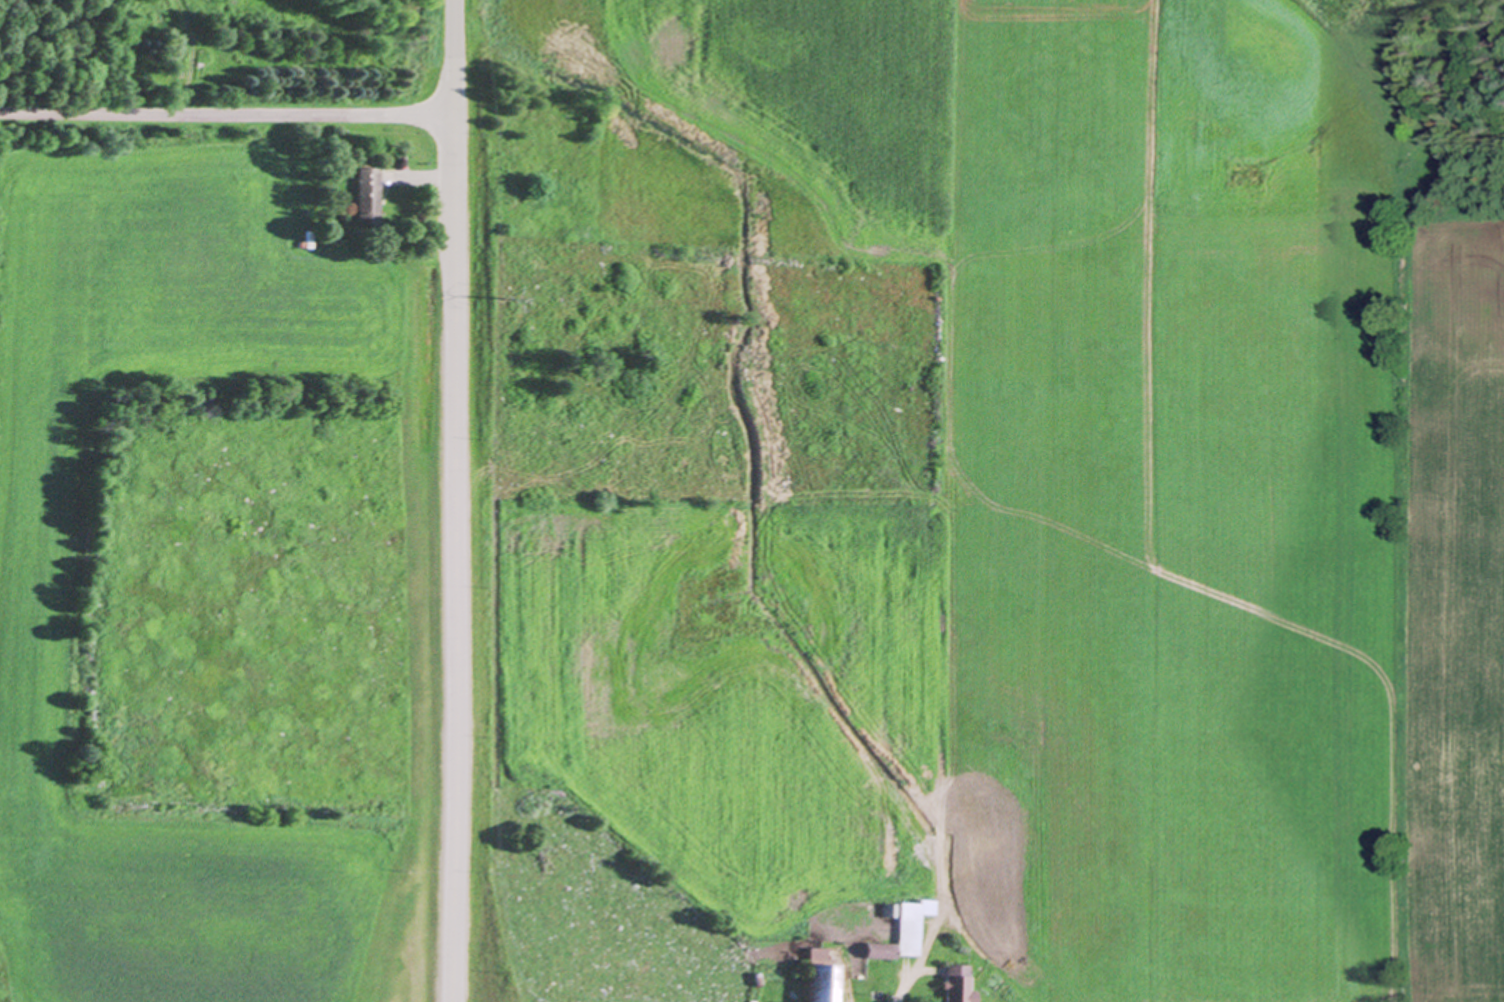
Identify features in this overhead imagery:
road: (228, 113)
road: (428, 176)
building: (369, 195)
road: (456, 501)
building: (906, 931)
building: (827, 983)
building: (962, 984)
road: (902, 990)

